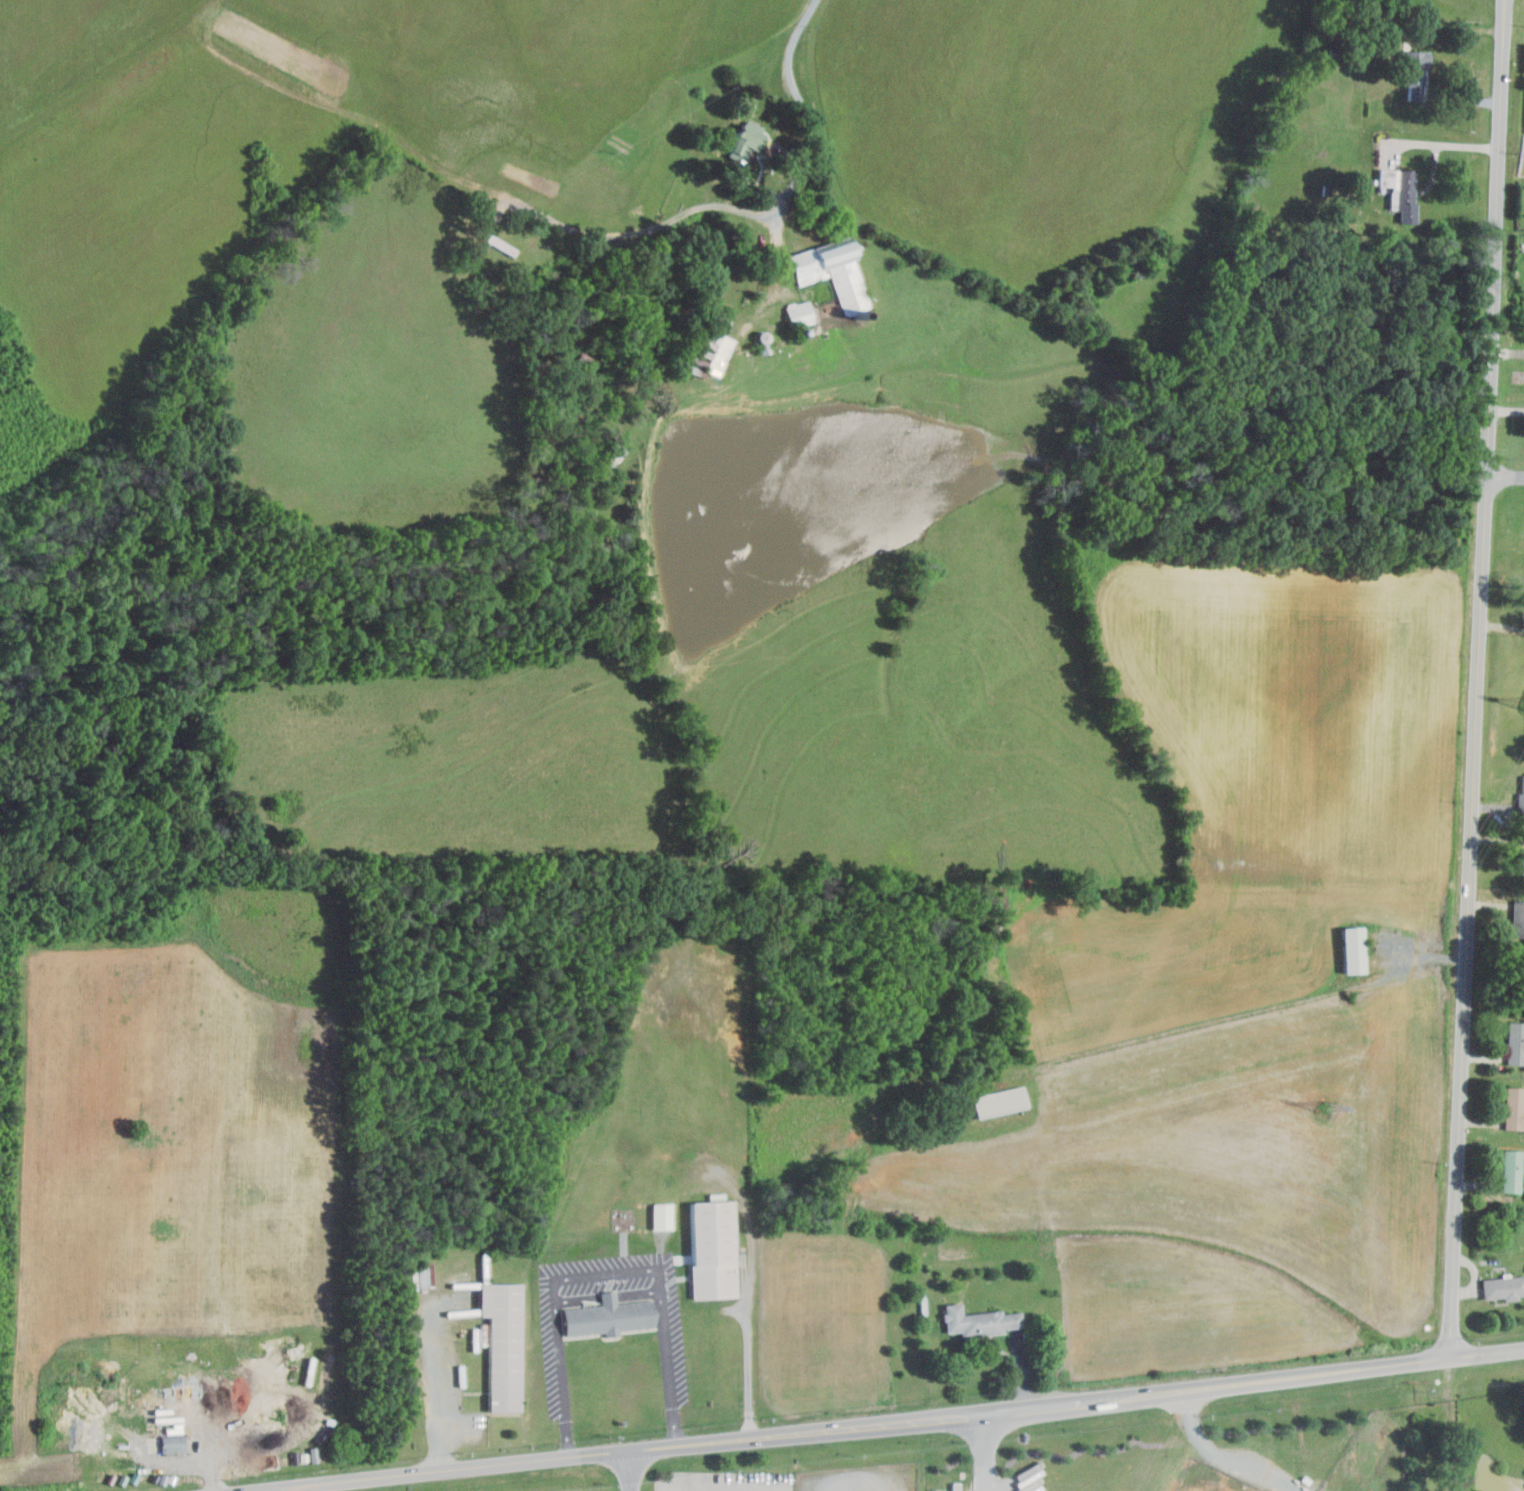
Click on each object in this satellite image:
building: (1414, 71)
building: (740, 143)
road: (1443, 143)
building: (1399, 194)
road: (759, 213)
building: (835, 274)
road: (780, 281)
building: (799, 312)
building: (718, 345)
road: (1506, 476)
road: (1480, 678)
crop: (1301, 723)
building: (1521, 798)
building: (1522, 862)
building: (1518, 919)
building: (1351, 950)
crop: (1161, 964)
building: (1515, 1043)
building: (999, 1101)
building: (1514, 1108)
building: (1512, 1170)
crop: (1249, 1183)
building: (660, 1216)
building: (711, 1249)
road: (607, 1274)
building: (1503, 1287)
building: (607, 1318)
building: (973, 1322)
building: (503, 1344)
road: (1487, 1352)
road: (750, 1357)
road: (433, 1371)
road: (860, 1428)
building: (173, 1443)
road: (984, 1453)
road: (1223, 1456)
road: (632, 1471)
road: (721, 1481)

